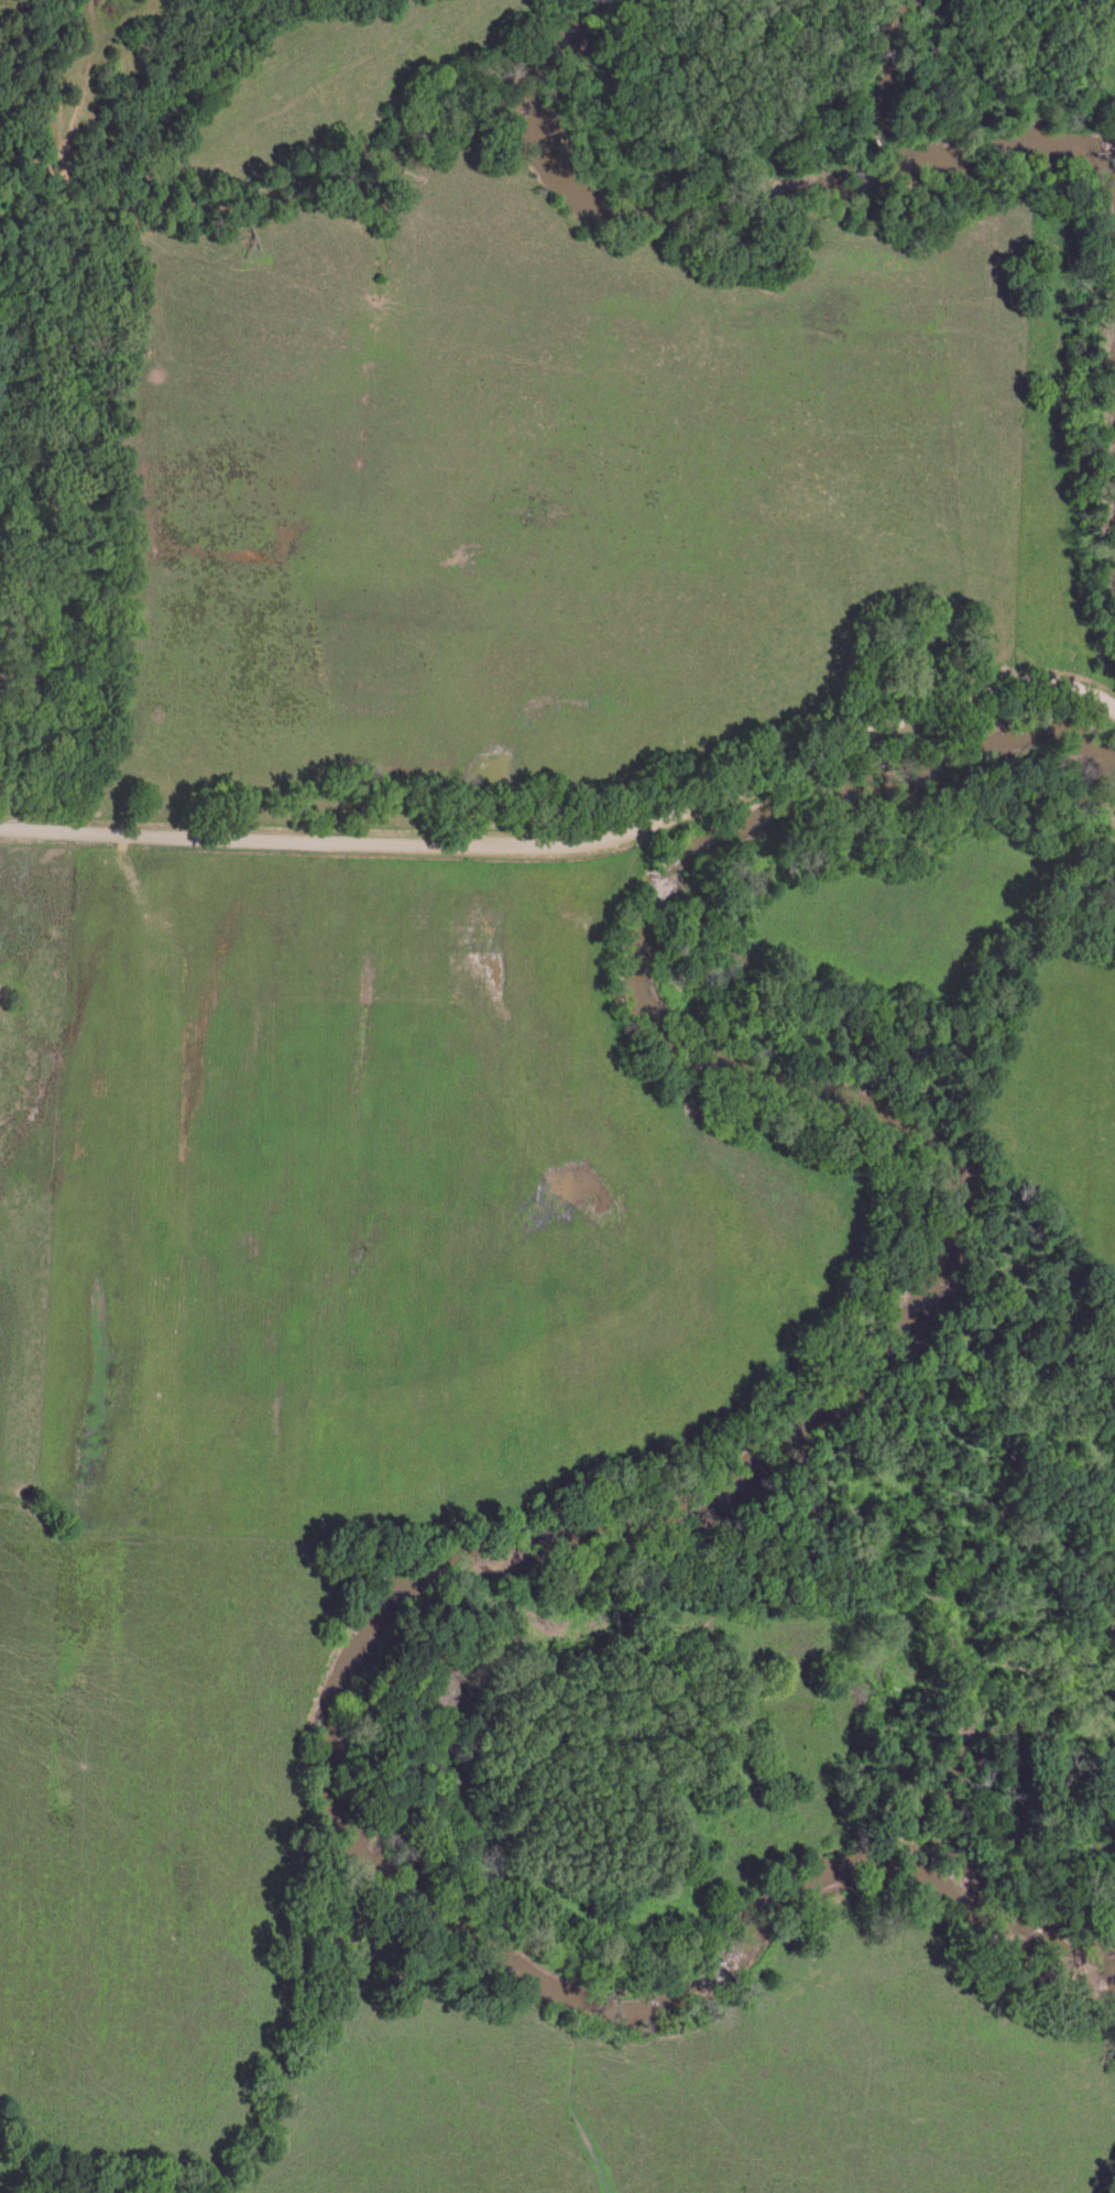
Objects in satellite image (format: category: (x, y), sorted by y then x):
road: (576, 847)

